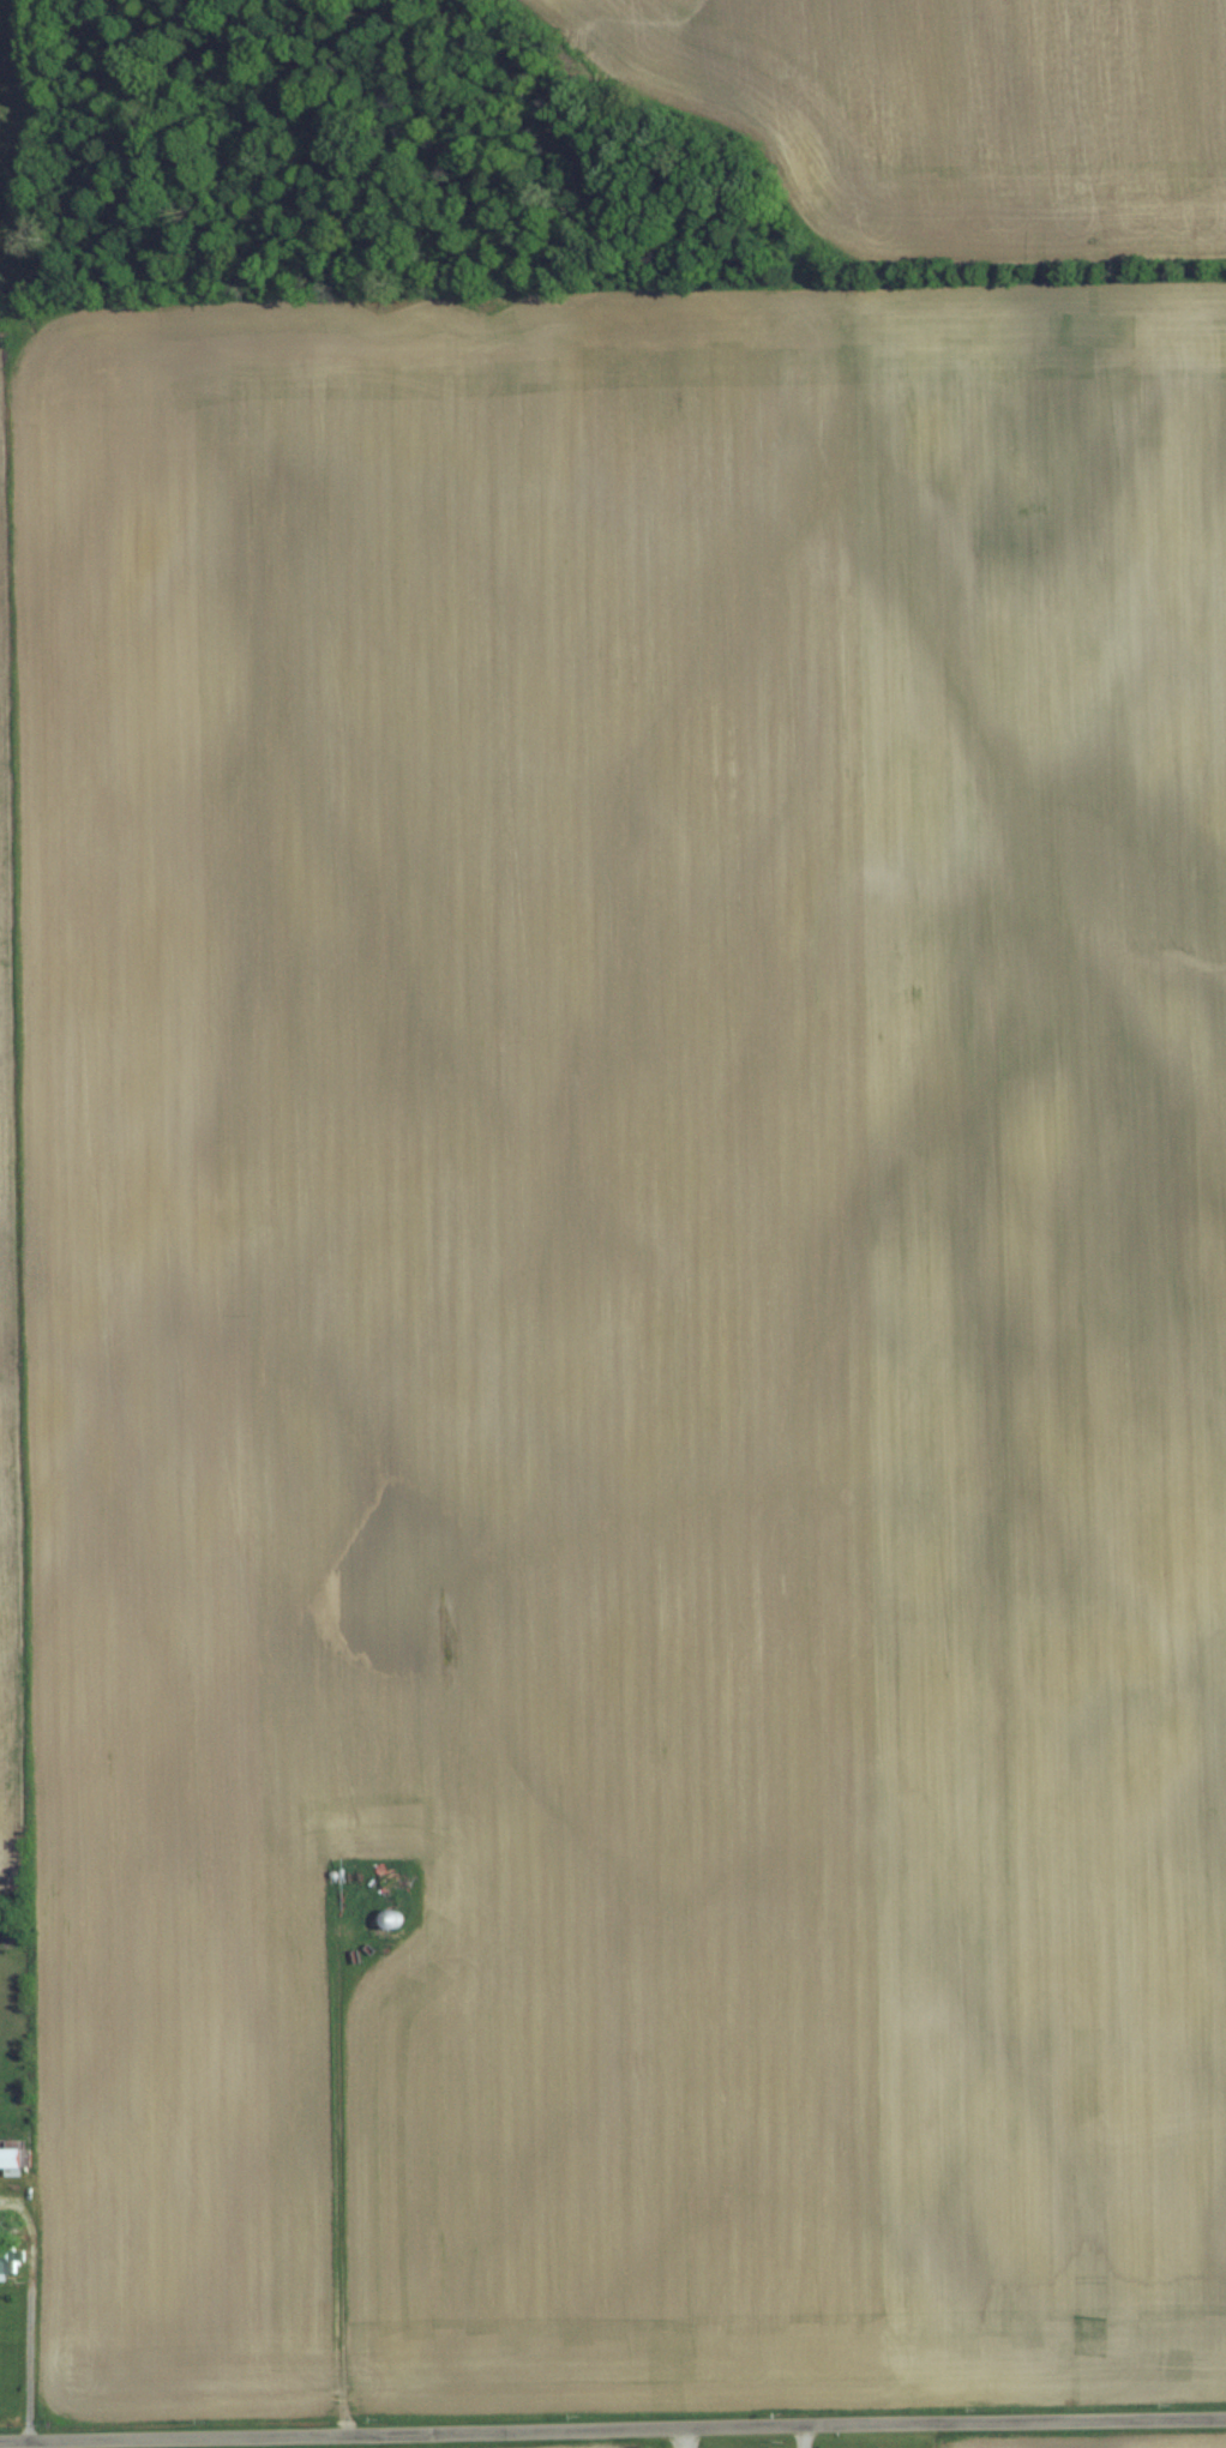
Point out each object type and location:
building: (395, 1919)
building: (13, 2154)
road: (341, 2201)
building: (7, 2260)
road: (32, 2316)
road: (613, 2430)

